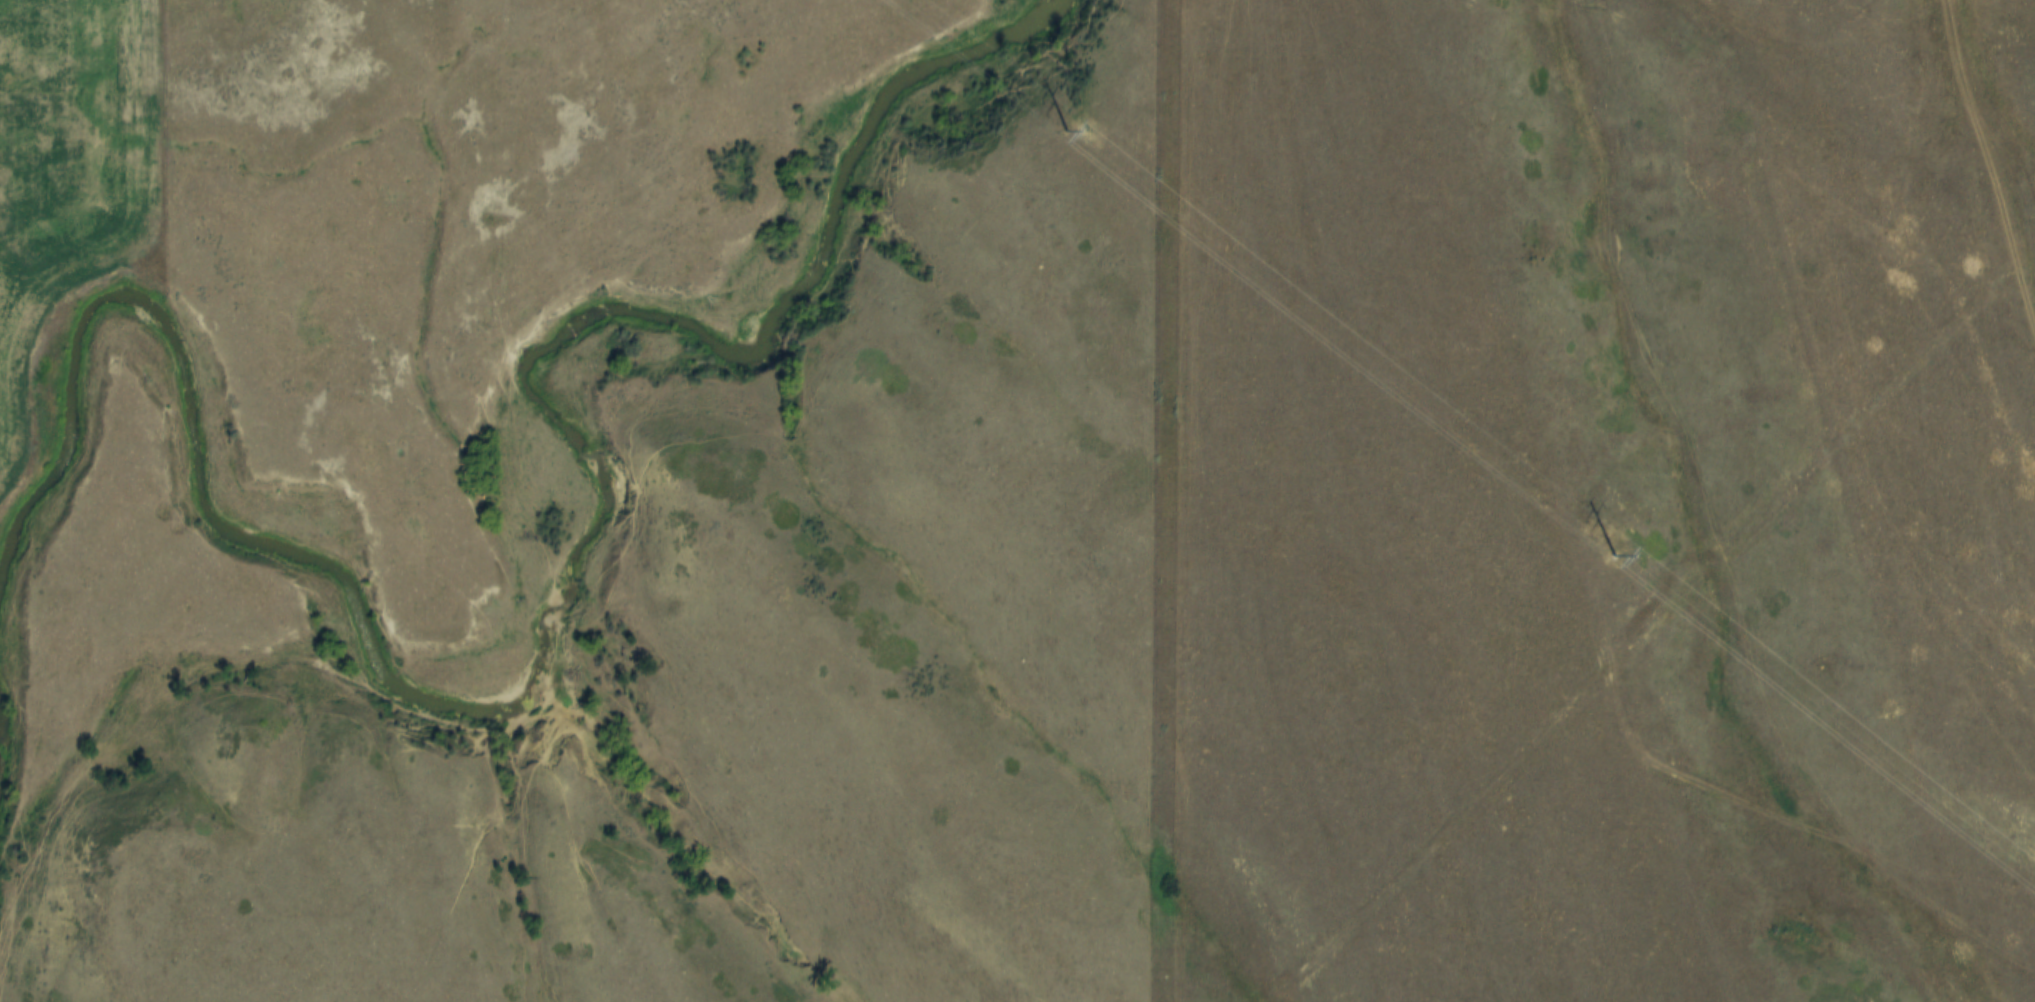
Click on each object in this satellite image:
road: (1995, 101)
power tower: (1066, 129)
power tower: (1614, 554)

